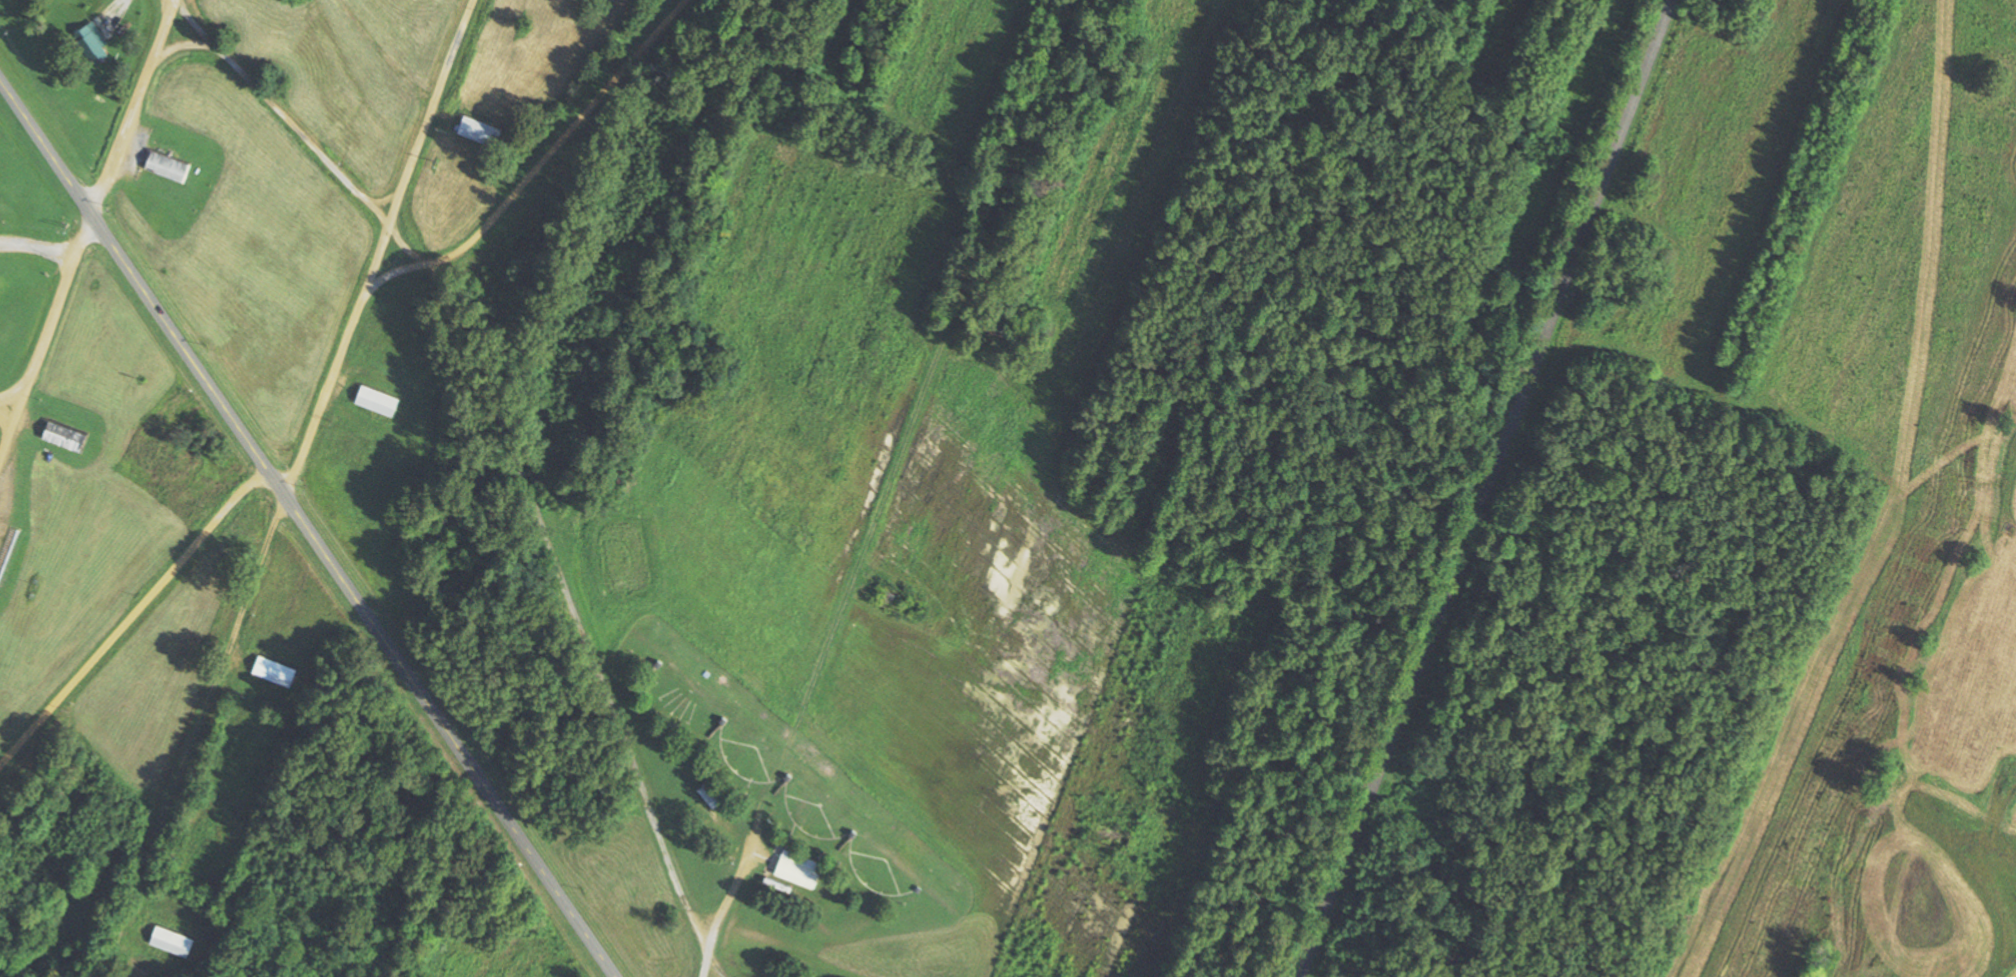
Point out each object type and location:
building: (478, 126)
building: (164, 166)
road: (536, 170)
road: (88, 222)
road: (376, 249)
road: (146, 293)
building: (367, 397)
road: (6, 406)
building: (59, 435)
road: (486, 441)
road: (864, 488)
road: (1206, 488)
road: (1492, 489)
road: (574, 490)
road: (133, 614)
building: (270, 670)
road: (198, 740)
road: (455, 740)
building: (706, 794)
building: (795, 869)
building: (168, 941)
road: (714, 964)

